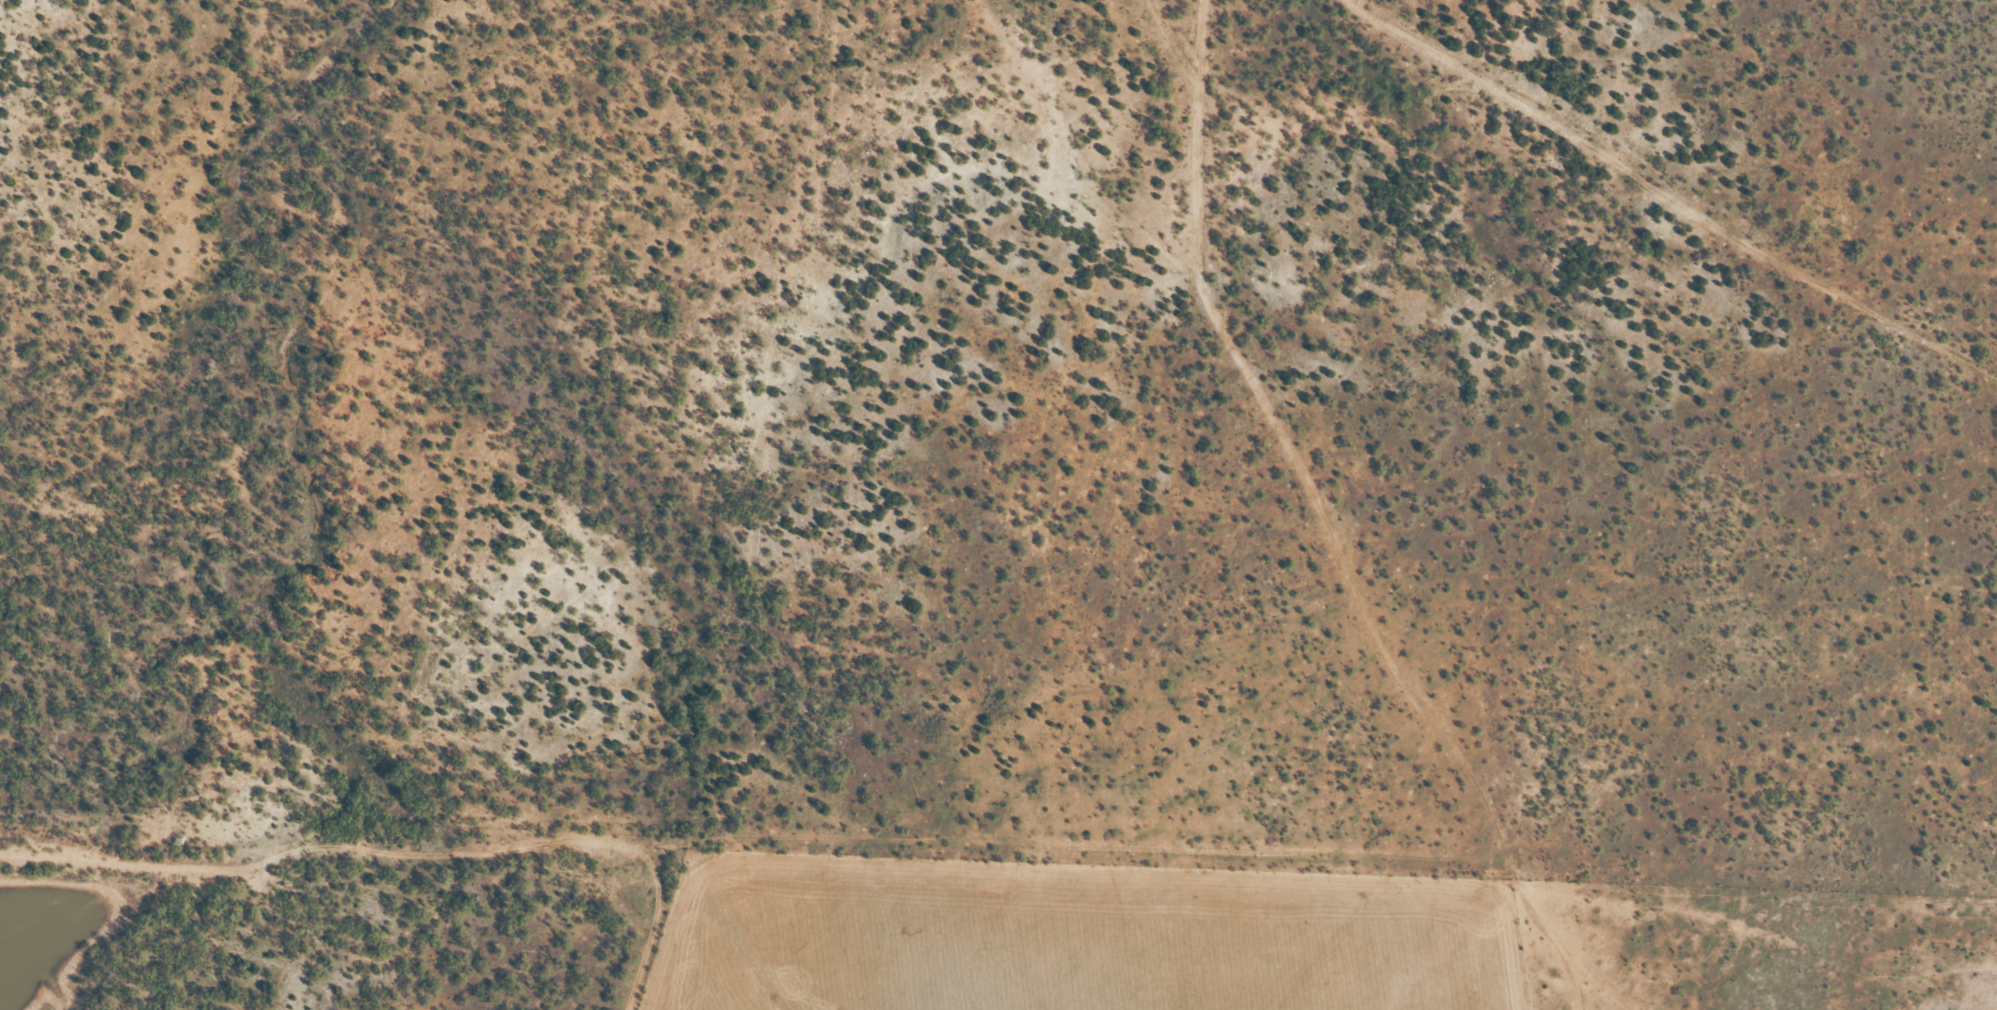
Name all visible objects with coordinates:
road: (1069, 111)
road: (1285, 447)
road: (826, 859)

